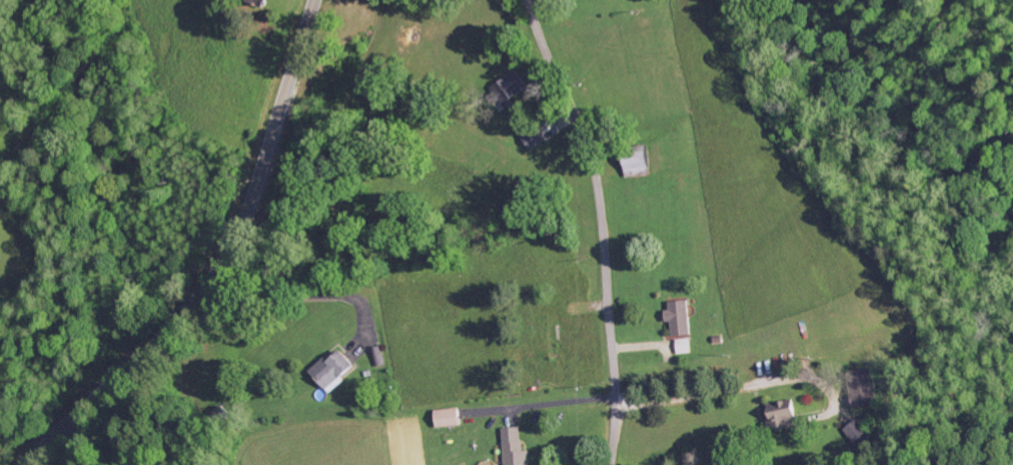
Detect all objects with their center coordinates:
building: (260, 2)
building: (511, 87)
building: (534, 139)
building: (639, 163)
road: (603, 225)
road: (226, 261)
building: (681, 318)
building: (685, 347)
building: (333, 370)
building: (867, 390)
building: (783, 416)
building: (450, 418)
building: (859, 434)
building: (516, 448)

